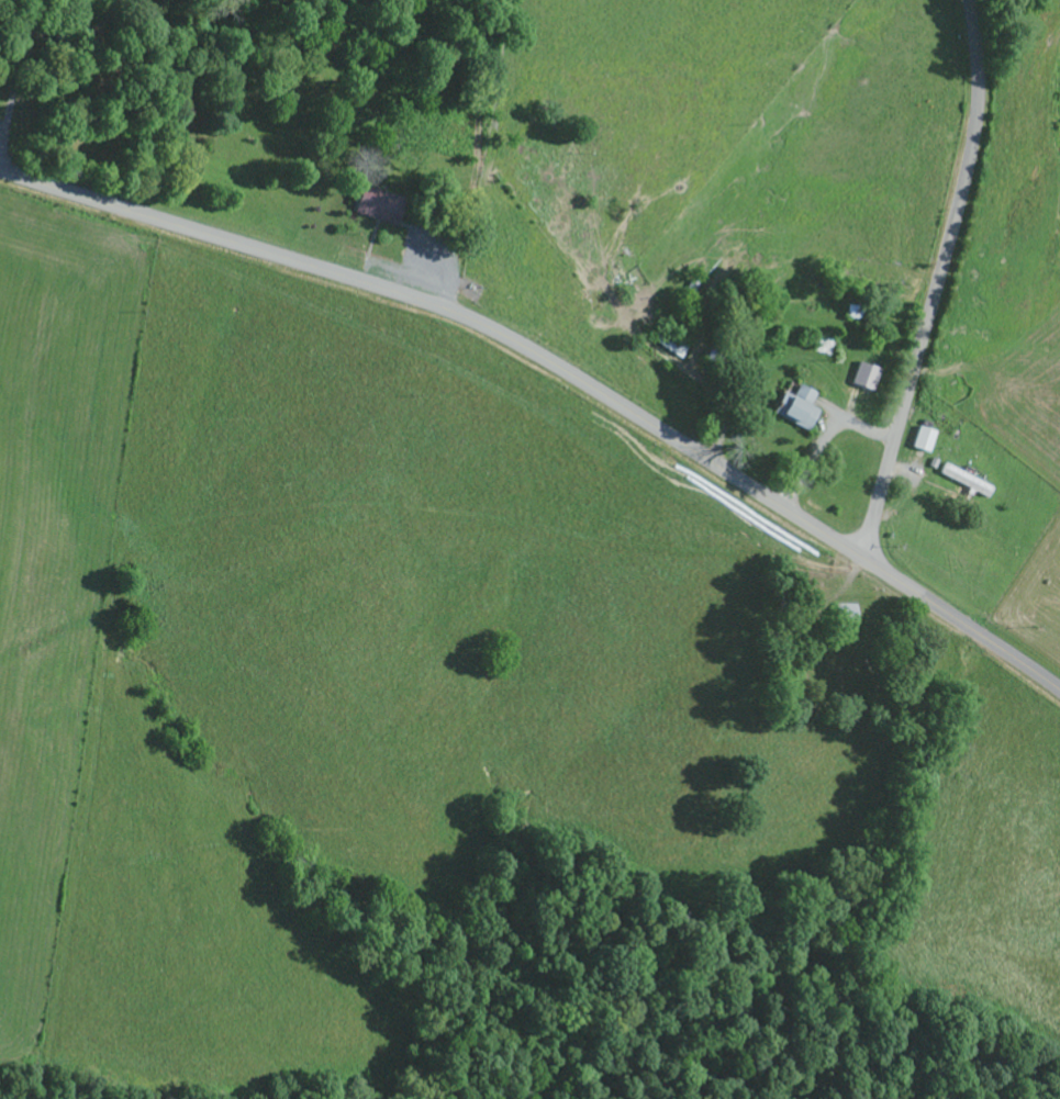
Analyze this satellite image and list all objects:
park: (261, 124)
building: (379, 208)
road: (938, 281)
road: (559, 367)
building: (863, 379)
building: (797, 412)
building: (923, 442)
park: (844, 673)

